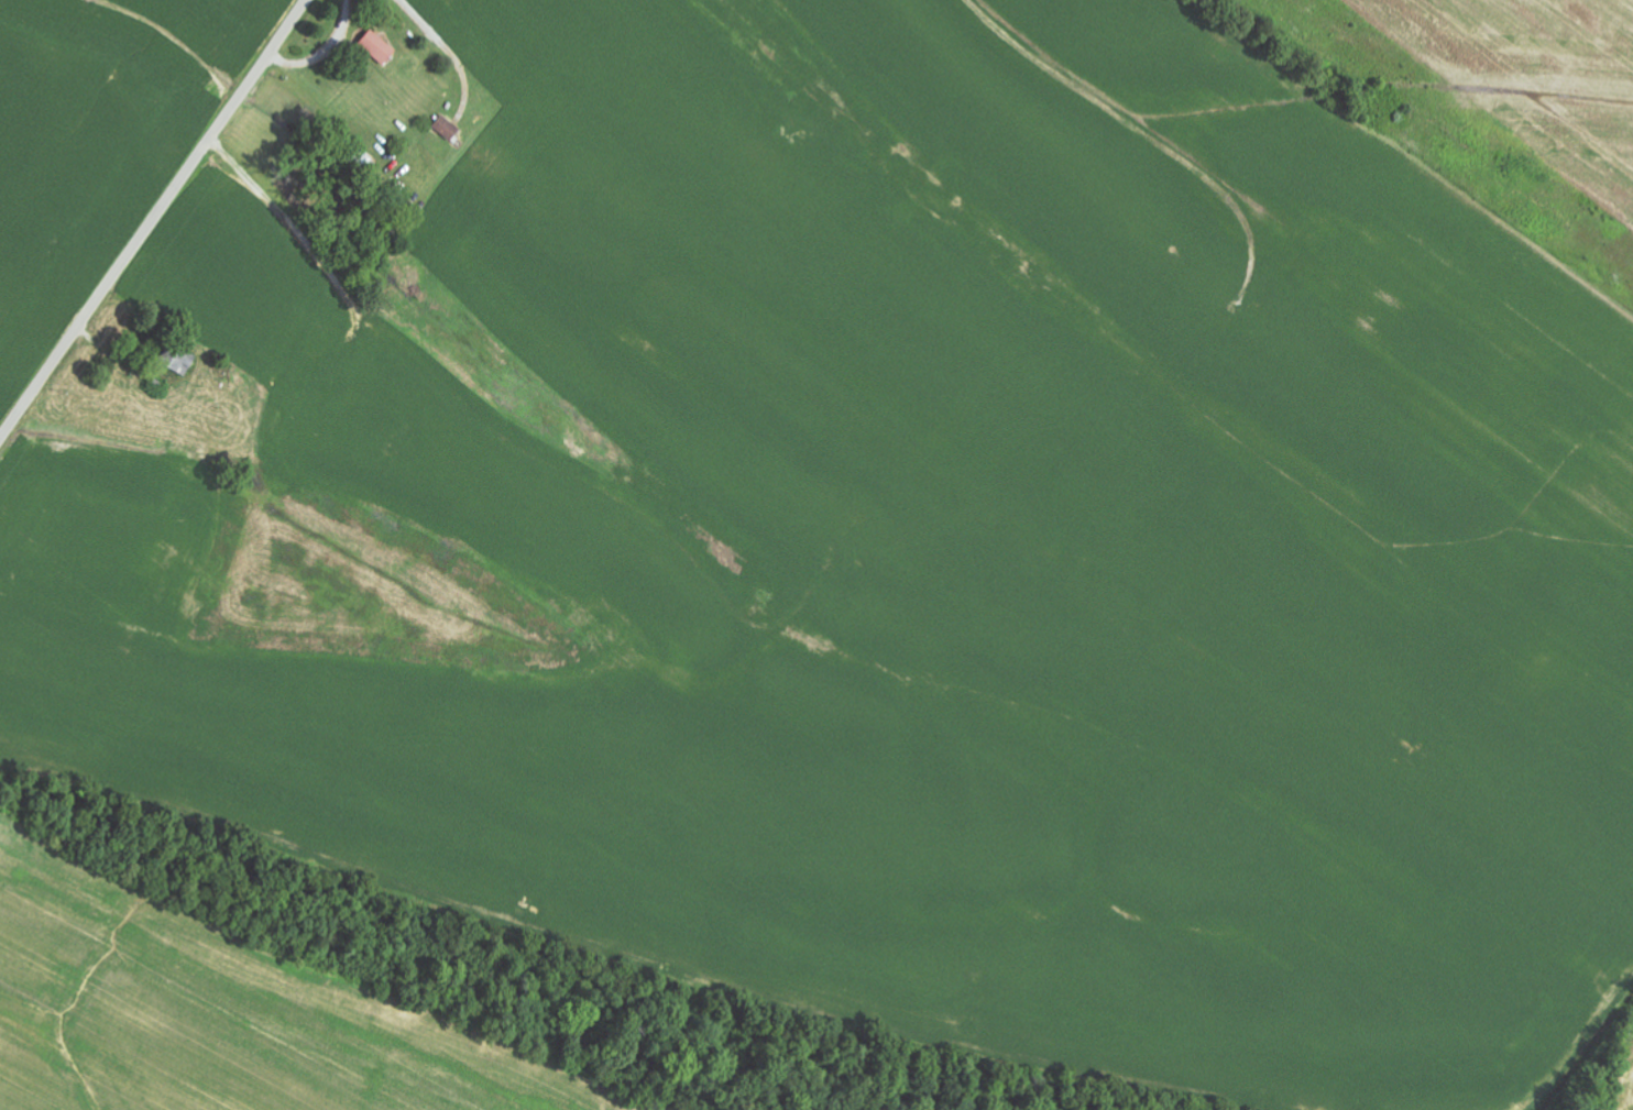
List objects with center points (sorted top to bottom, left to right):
building: (377, 47)
road: (450, 51)
road: (327, 53)
road: (275, 206)
road: (152, 218)

